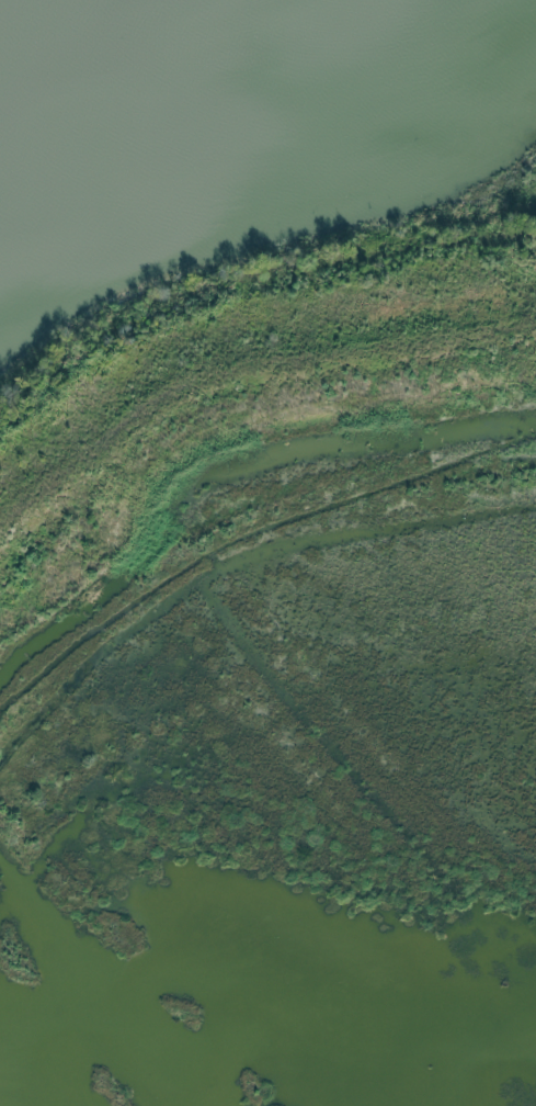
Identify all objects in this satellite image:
landfill: (281, 684)

